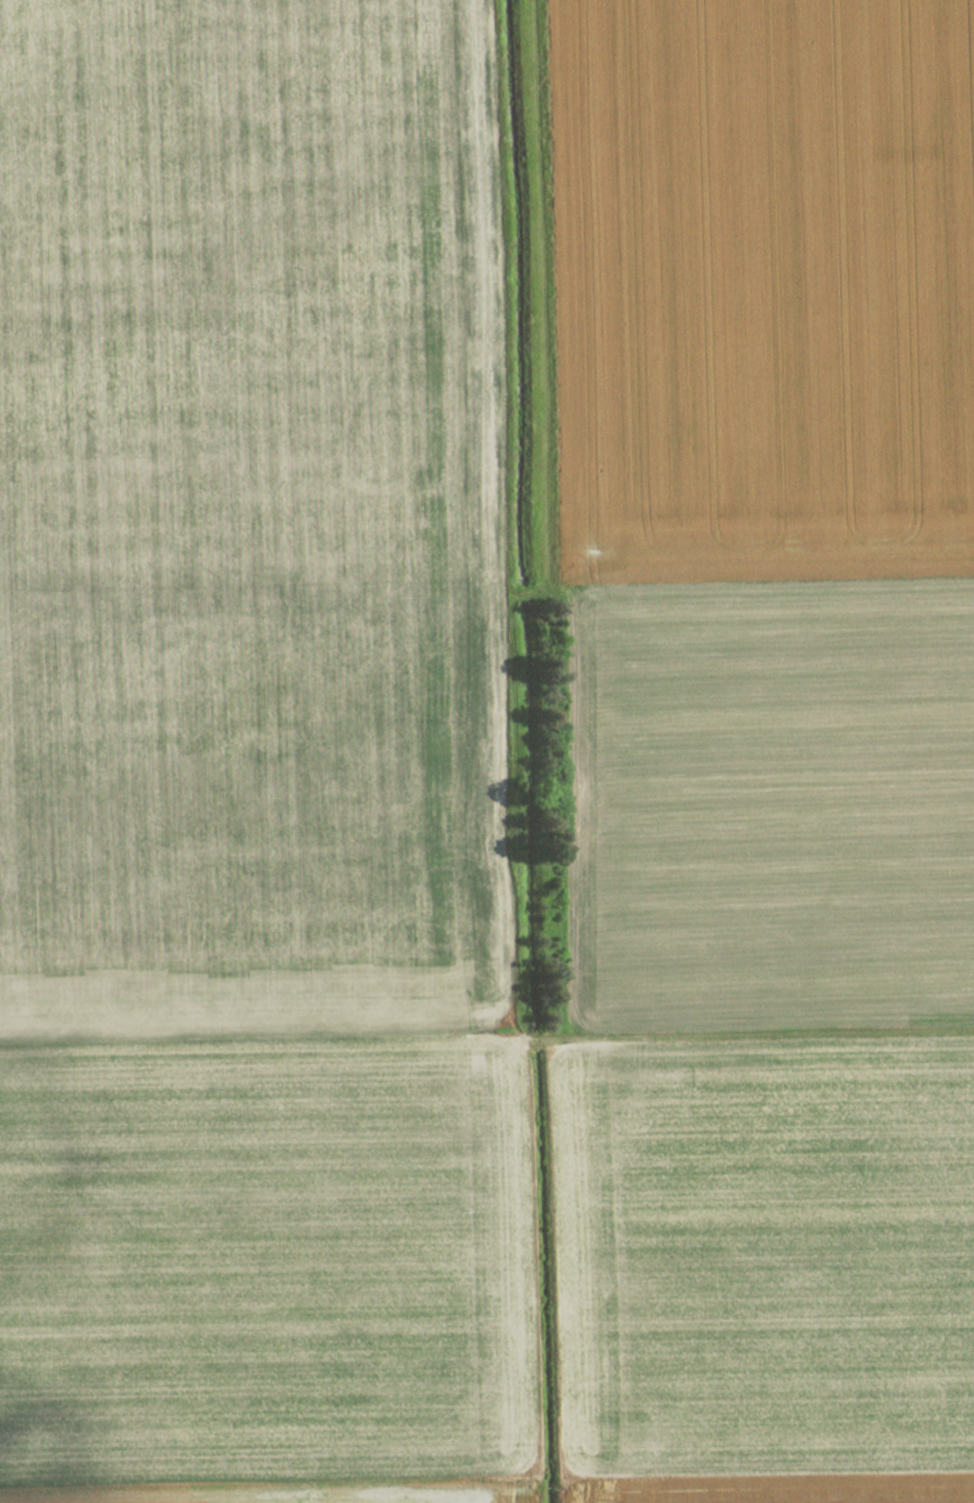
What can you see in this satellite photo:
crop: (251, 516)
crop: (764, 748)
crop: (260, 1266)

